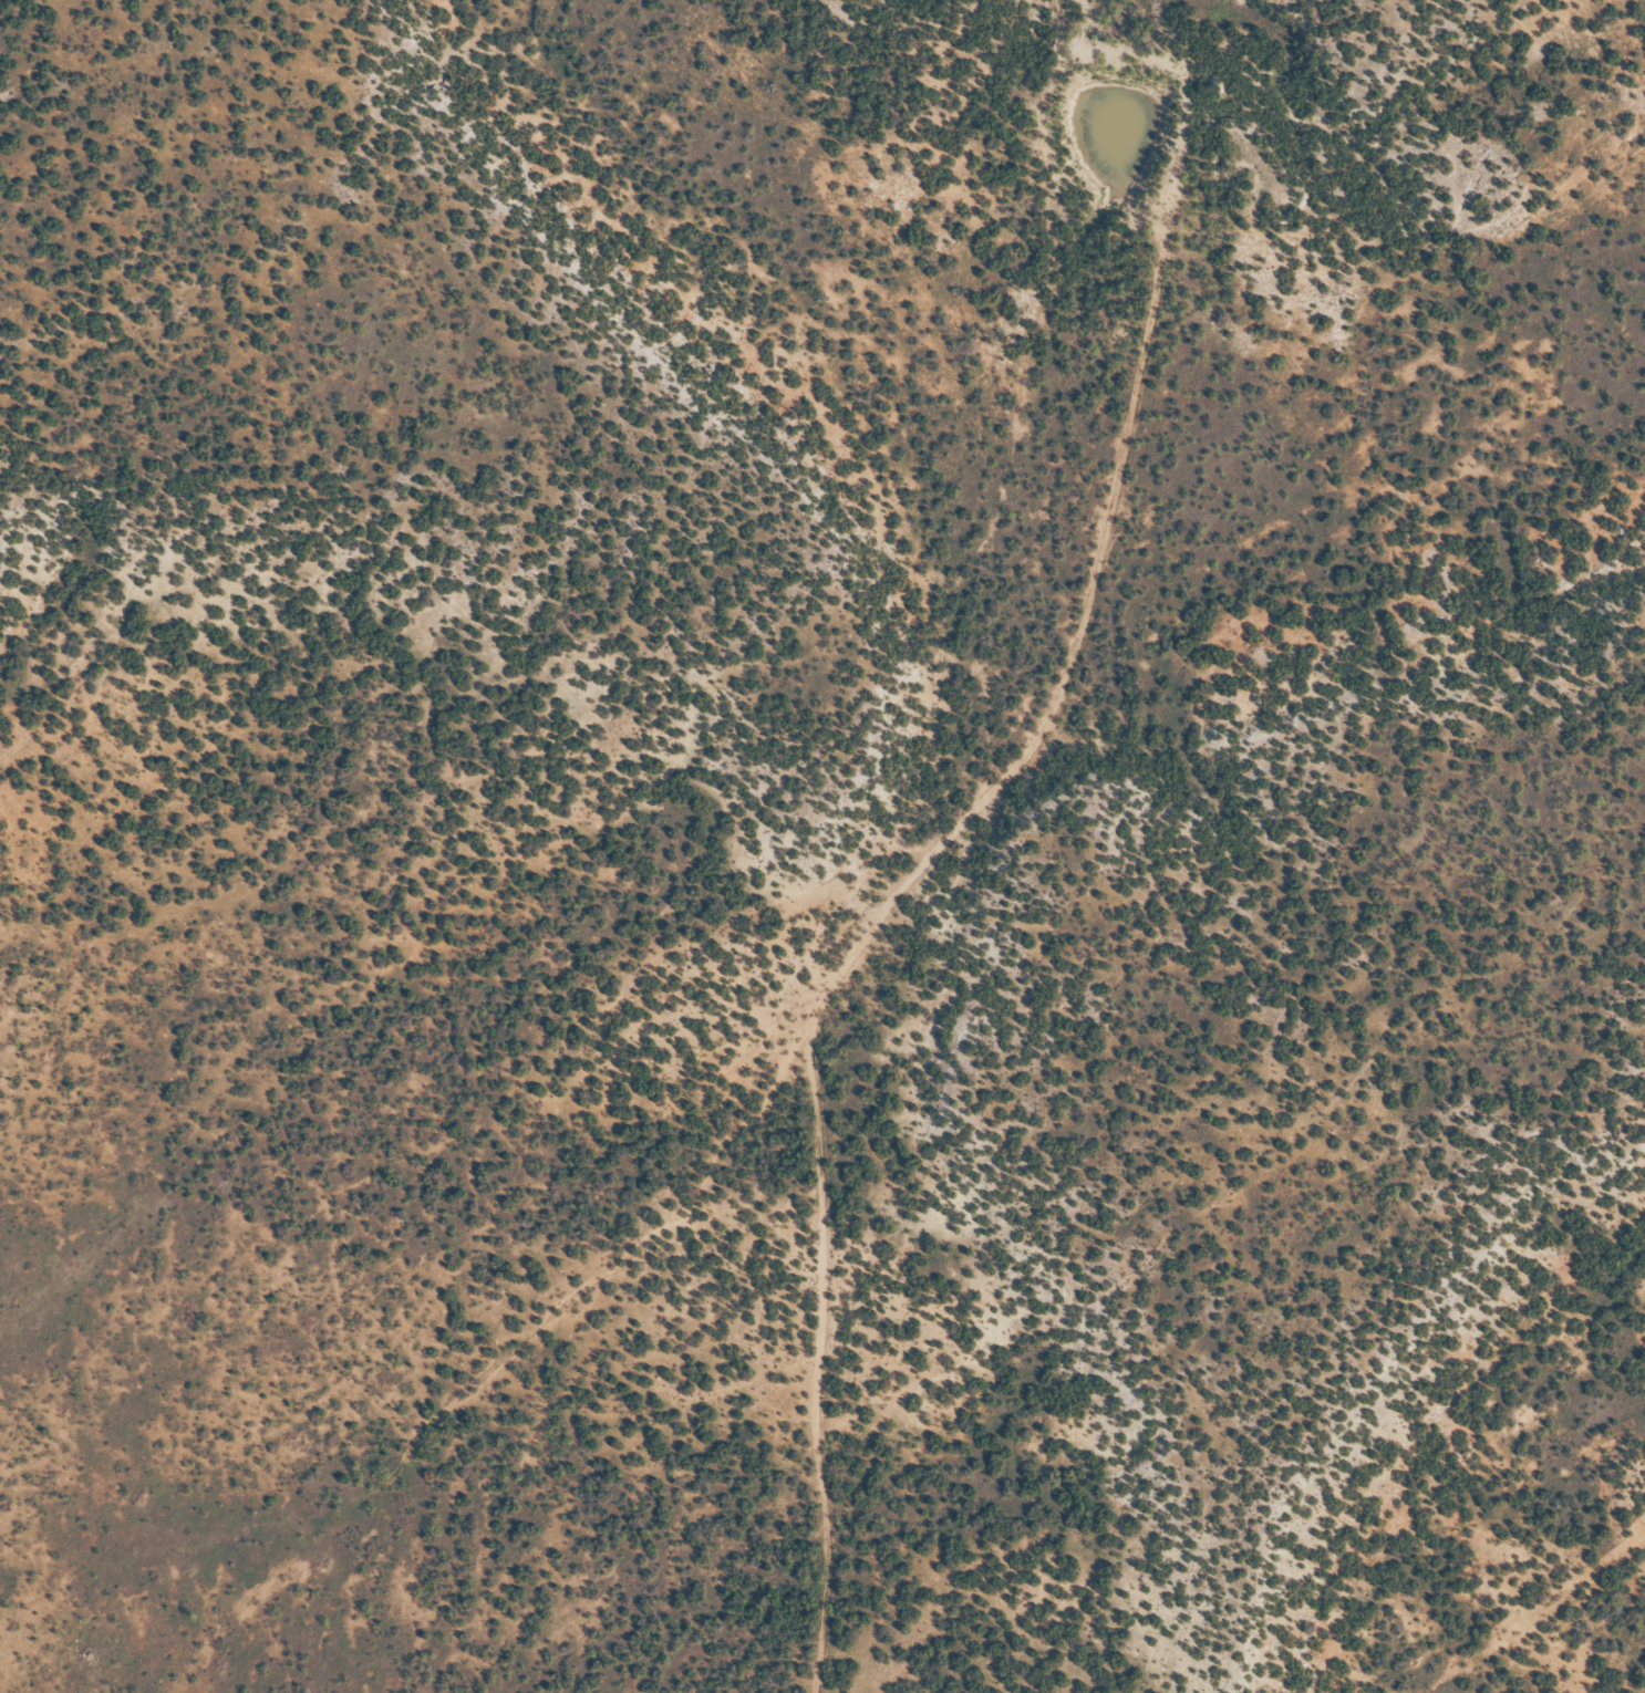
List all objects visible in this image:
road: (896, 923)

